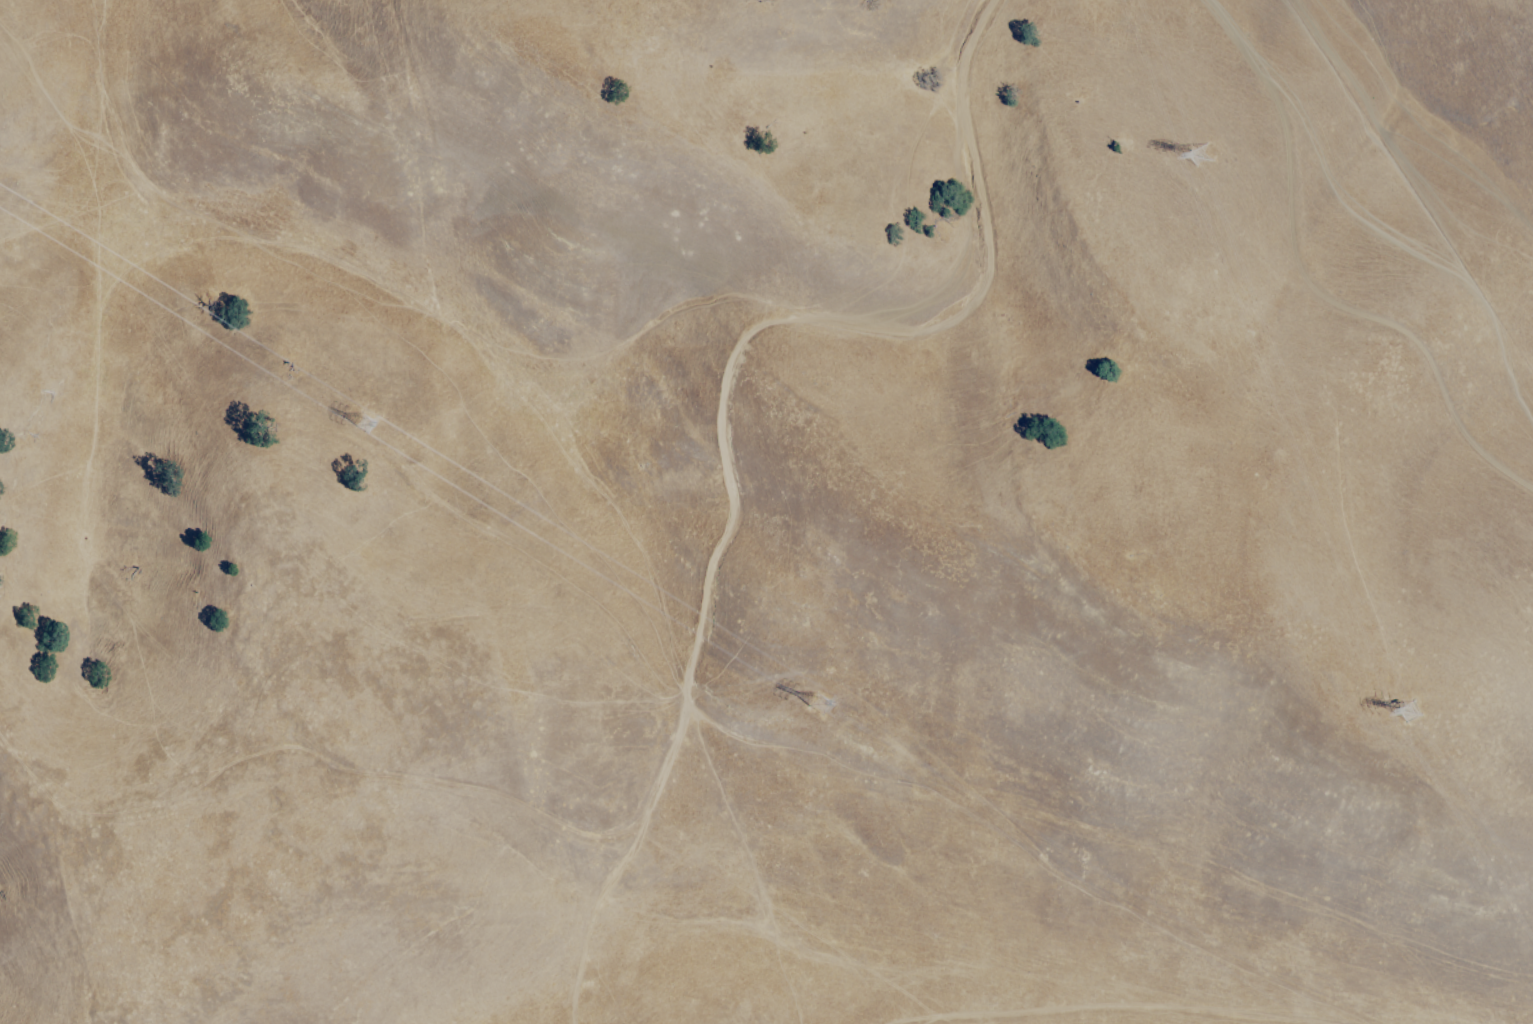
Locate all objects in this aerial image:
power tower: (1197, 142)
road: (1308, 286)
power tower: (370, 438)
park: (766, 512)
power tower: (824, 711)
power tower: (1418, 716)
road: (674, 720)
road: (1145, 1011)

